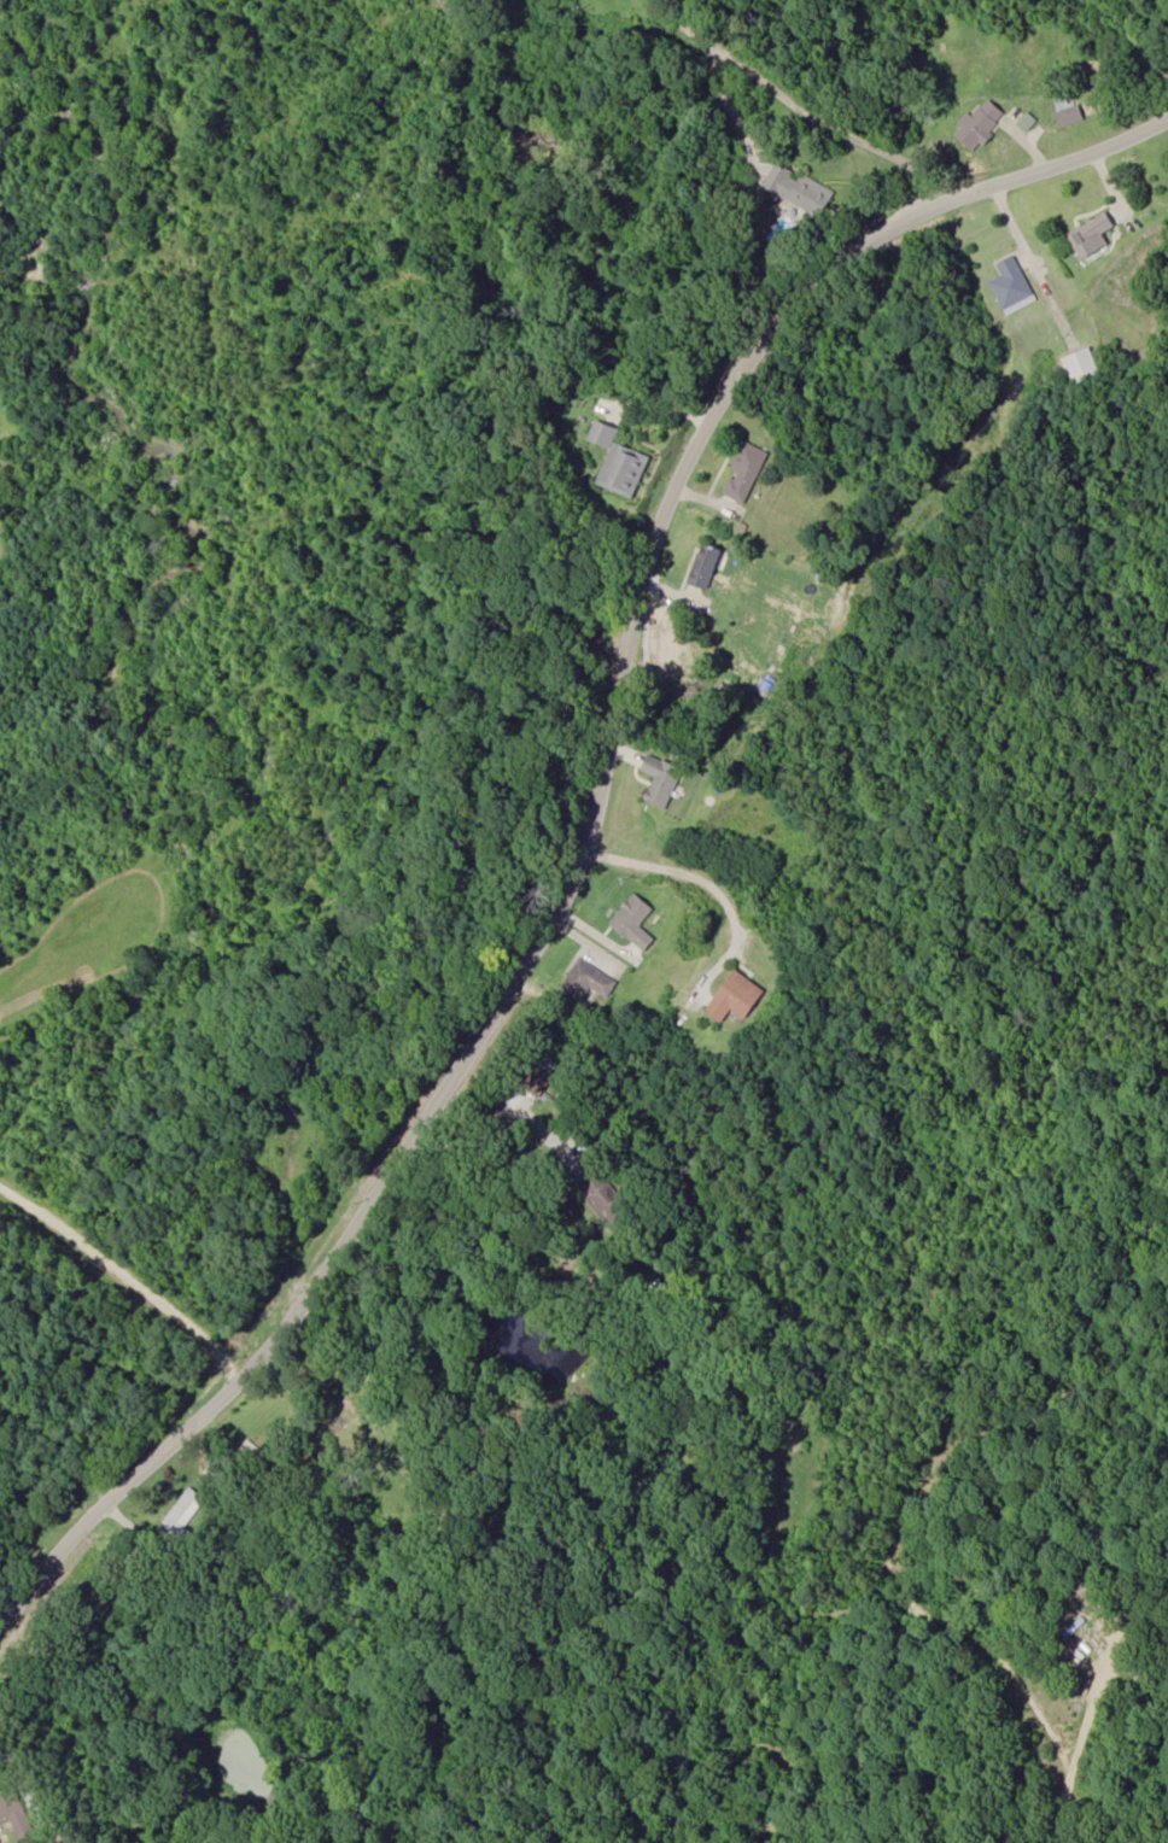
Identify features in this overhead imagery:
building: (1068, 110)
building: (979, 124)
building: (801, 191)
building: (1091, 234)
building: (1010, 281)
building: (1081, 364)
building: (618, 461)
building: (744, 470)
building: (703, 564)
building: (661, 779)
road: (592, 820)
building: (633, 921)
building: (585, 982)
building: (734, 996)
building: (357, 1428)
building: (182, 1514)
building: (14, 1814)

